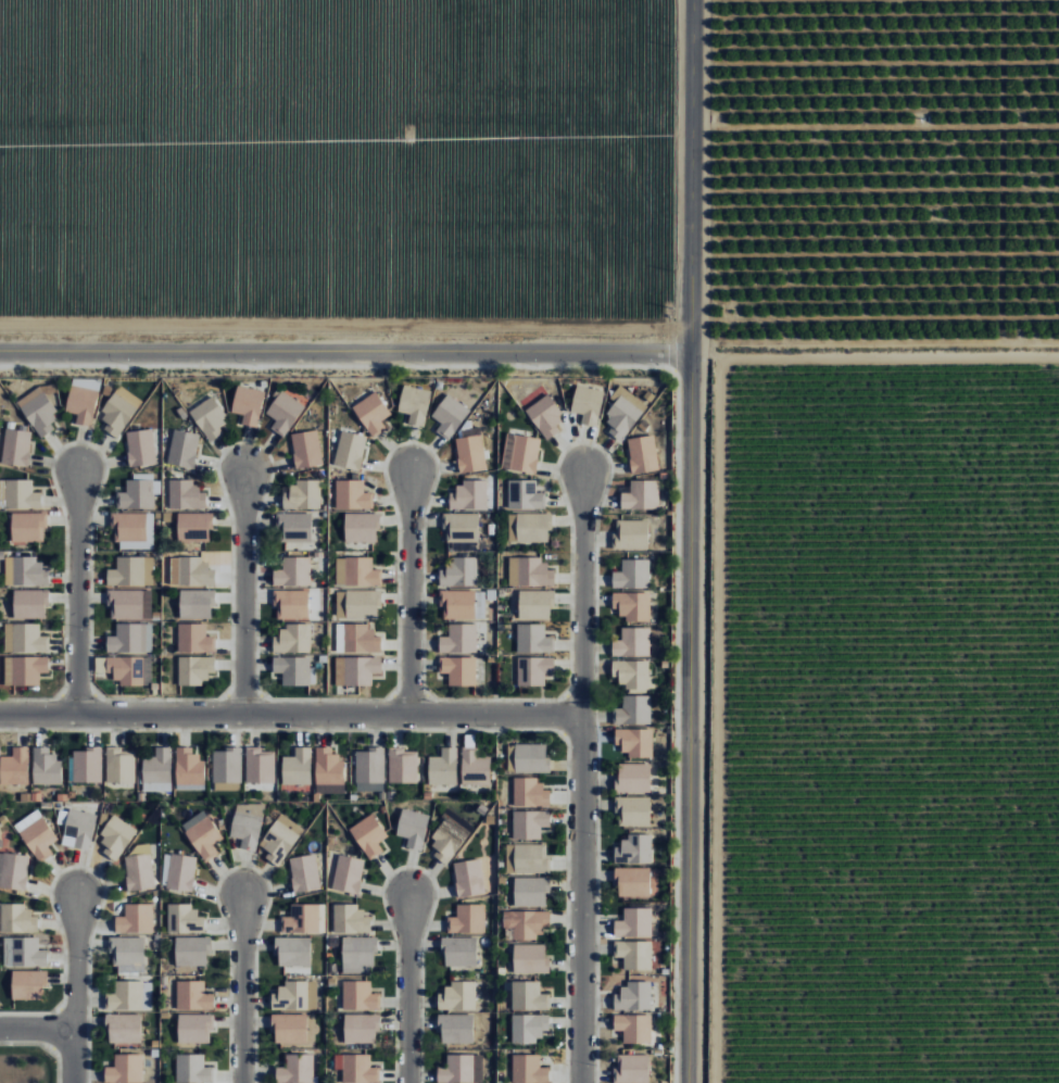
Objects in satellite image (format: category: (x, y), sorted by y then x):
road: (344, 352)
building: (414, 403)
building: (81, 404)
building: (248, 404)
building: (588, 404)
building: (118, 411)
building: (39, 412)
building: (283, 412)
building: (623, 412)
building: (371, 413)
building: (449, 416)
building: (545, 416)
building: (209, 418)
building: (16, 448)
building: (140, 448)
building: (182, 449)
building: (305, 449)
building: (350, 450)
building: (470, 451)
building: (520, 453)
building: (642, 454)
building: (138, 492)
building: (21, 494)
building: (186, 495)
building: (303, 495)
building: (352, 495)
building: (468, 495)
building: (525, 495)
building: (641, 495)
building: (28, 526)
building: (193, 527)
building: (294, 527)
building: (362, 527)
building: (529, 527)
building: (461, 528)
building: (134, 530)
building: (630, 534)
road: (688, 541)
building: (26, 571)
building: (130, 571)
building: (188, 571)
building: (293, 571)
building: (356, 571)
building: (459, 572)
building: (530, 572)
building: (632, 574)
road: (76, 591)
road: (243, 591)
road: (409, 591)
road: (581, 592)
building: (29, 604)
building: (129, 604)
building: (196, 604)
building: (291, 604)
building: (357, 604)
building: (463, 604)
building: (535, 604)
building: (632, 605)
building: (24, 639)
building: (130, 639)
building: (194, 639)
building: (292, 639)
building: (357, 639)
building: (458, 639)
building: (533, 639)
building: (632, 642)
building: (24, 669)
building: (194, 669)
building: (129, 670)
building: (294, 670)
building: (356, 670)
building: (458, 670)
building: (533, 670)
building: (632, 675)
building: (633, 710)
road: (290, 713)
building: (634, 742)
building: (531, 758)
building: (87, 765)
building: (121, 765)
building: (260, 765)
building: (14, 766)
building: (402, 766)
building: (46, 767)
building: (189, 767)
building: (297, 767)
building: (328, 767)
building: (443, 767)
building: (475, 768)
building: (227, 769)
building: (157, 770)
building: (369, 770)
building: (633, 778)
building: (15, 788)
building: (530, 793)
building: (633, 811)
building: (529, 823)
building: (247, 824)
building: (413, 828)
building: (79, 829)
building: (36, 834)
building: (202, 834)
building: (368, 835)
building: (450, 835)
building: (115, 838)
building: (279, 840)
building: (633, 849)
building: (527, 858)
building: (139, 868)
building: (14, 871)
building: (178, 872)
building: (304, 873)
building: (348, 874)
building: (468, 878)
building: (632, 882)
building: (530, 892)
road: (579, 898)
building: (135, 919)
building: (185, 919)
building: (304, 919)
building: (467, 919)
building: (17, 920)
building: (350, 920)
building: (634, 923)
building: (529, 924)
building: (191, 950)
building: (292, 952)
building: (459, 952)
building: (23, 953)
building: (358, 954)
building: (127, 955)
building: (634, 955)
building: (530, 959)
road: (75, 960)
building: (28, 985)
road: (241, 988)
road: (408, 988)
building: (129, 996)
building: (193, 996)
building: (295, 996)
building: (358, 996)
building: (529, 996)
building: (457, 997)
building: (632, 997)
road: (37, 1027)
building: (123, 1028)
building: (194, 1028)
building: (289, 1028)
building: (361, 1028)
building: (529, 1028)
building: (633, 1028)
building: (455, 1029)
road: (73, 1055)
building: (632, 1068)
building: (125, 1069)
building: (192, 1069)
building: (295, 1069)
building: (356, 1069)
building: (462, 1069)
building: (529, 1070)

